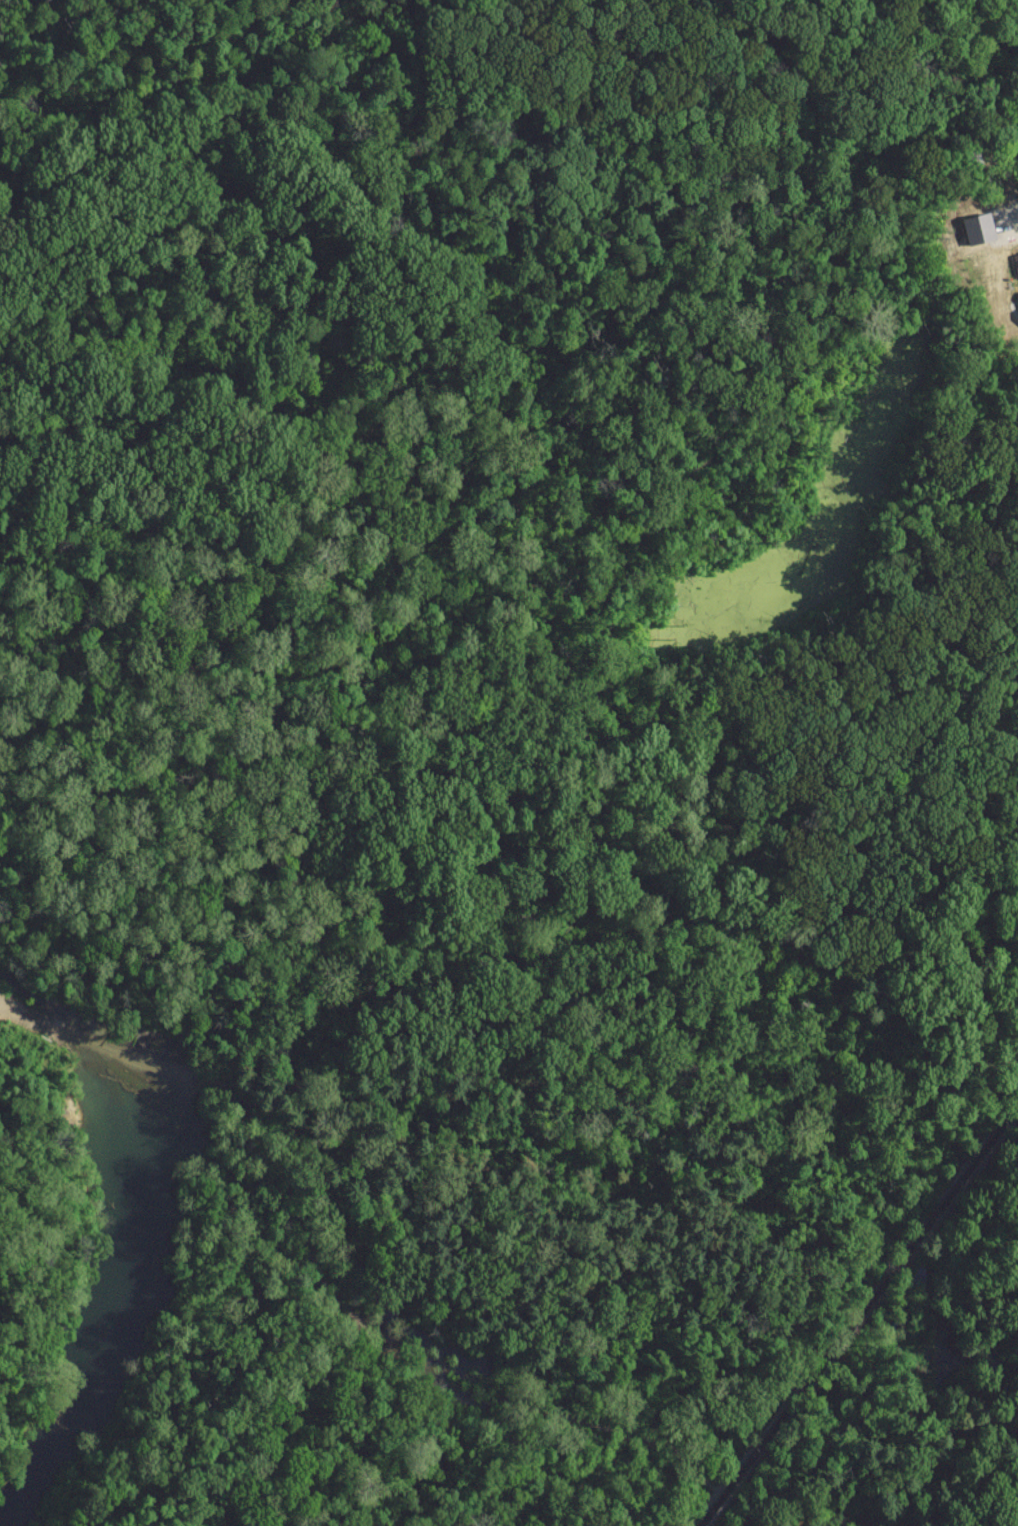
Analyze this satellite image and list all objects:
building: (1016, 261)
building: (1017, 295)
railway: (859, 1315)

